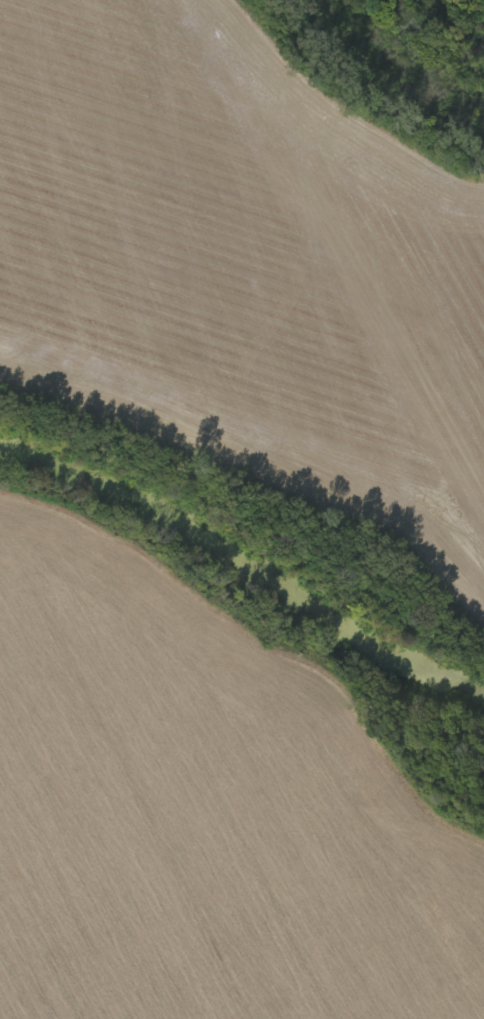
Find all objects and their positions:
crop: (243, 264)

